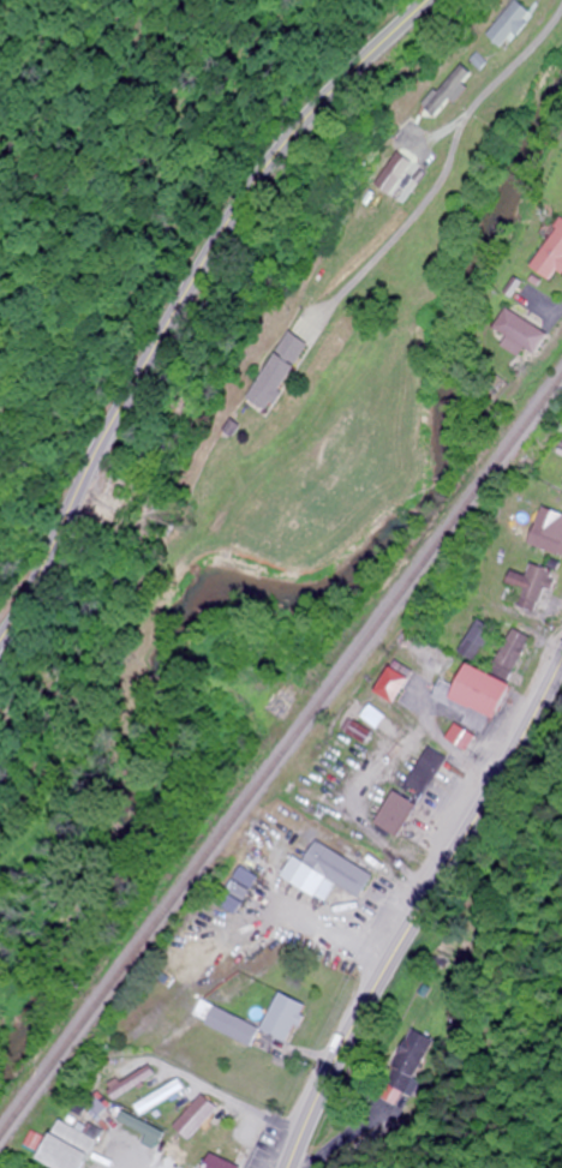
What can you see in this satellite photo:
building: (510, 24)
road: (456, 132)
building: (552, 258)
road: (179, 298)
road: (560, 313)
building: (527, 331)
building: (280, 370)
building: (549, 532)
building: (534, 585)
river: (291, 592)
building: (479, 639)
building: (495, 678)
building: (399, 684)
building: (363, 732)
building: (460, 736)
railway: (280, 755)
building: (426, 769)
building: (399, 813)
building: (259, 864)
building: (330, 869)
road: (417, 908)
building: (286, 1017)
building: (228, 1023)
building: (411, 1060)
building: (162, 1096)
building: (197, 1116)
building: (147, 1130)
building: (74, 1146)
building: (210, 1160)

